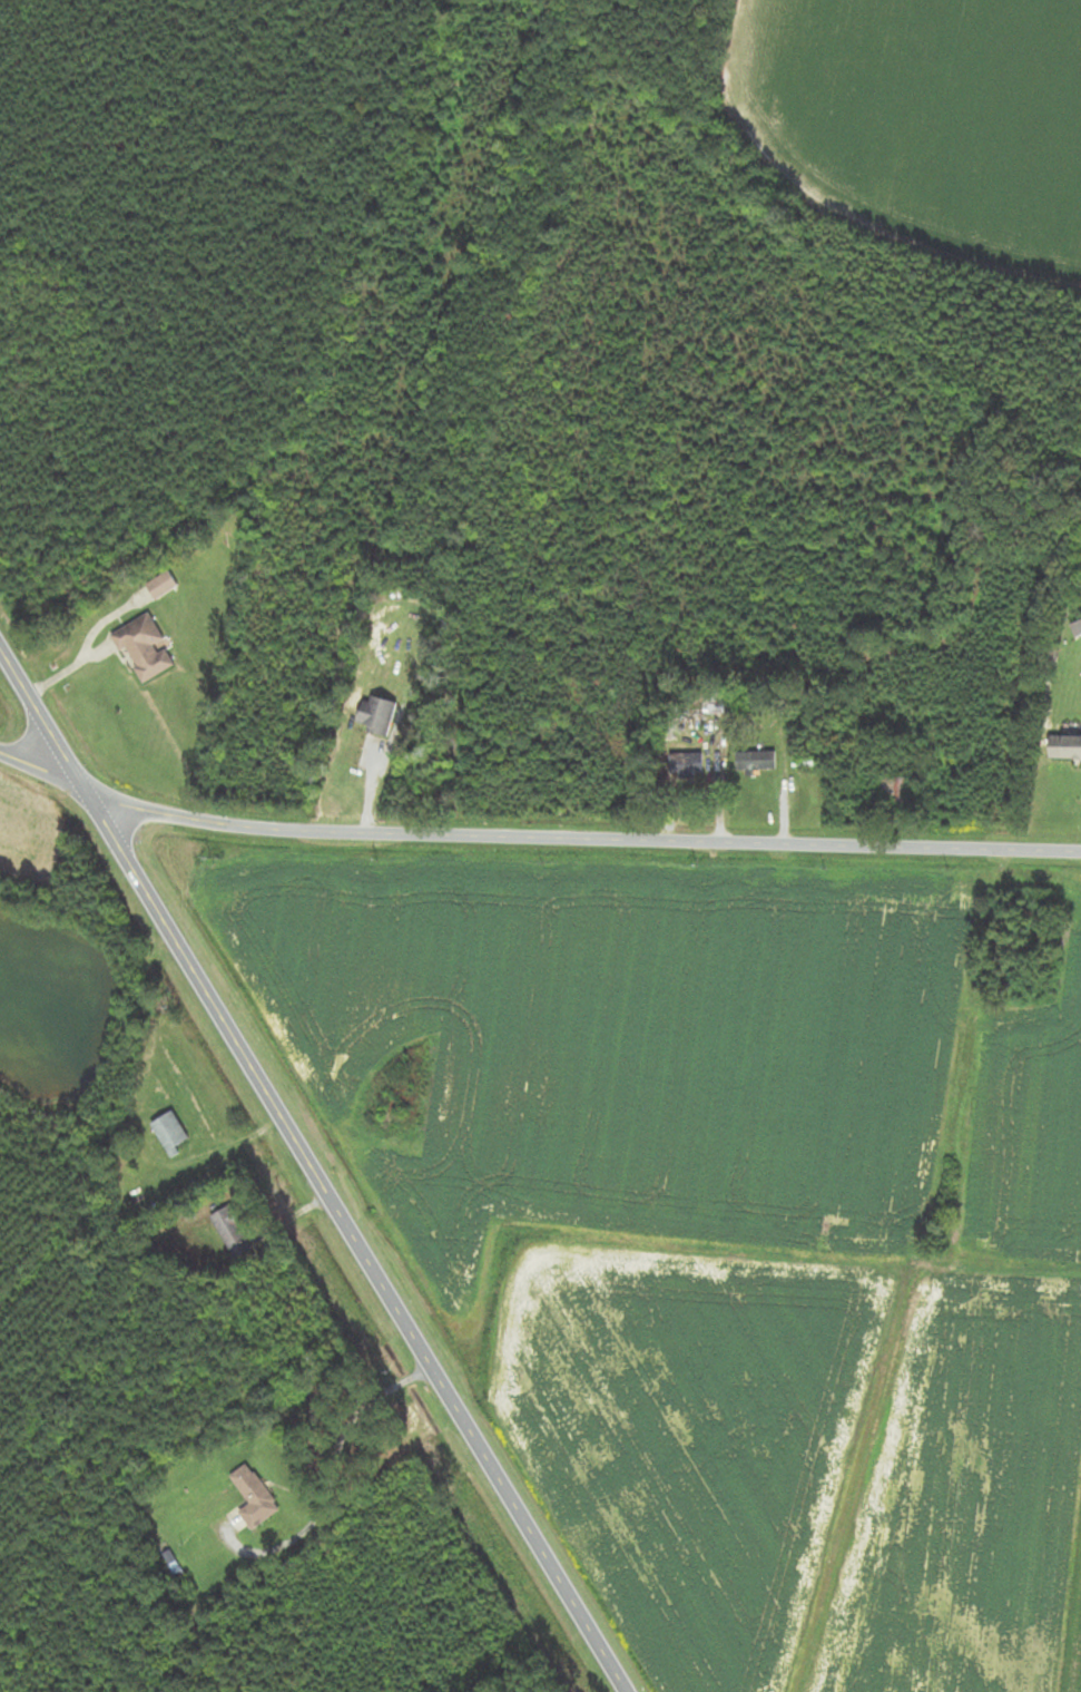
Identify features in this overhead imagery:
building: (143, 648)
building: (713, 703)
building: (376, 713)
building: (1063, 746)
building: (754, 761)
road: (36, 762)
building: (805, 762)
building: (895, 793)
road: (588, 838)
building: (168, 1131)
road: (312, 1170)
building: (230, 1232)
building: (253, 1497)

